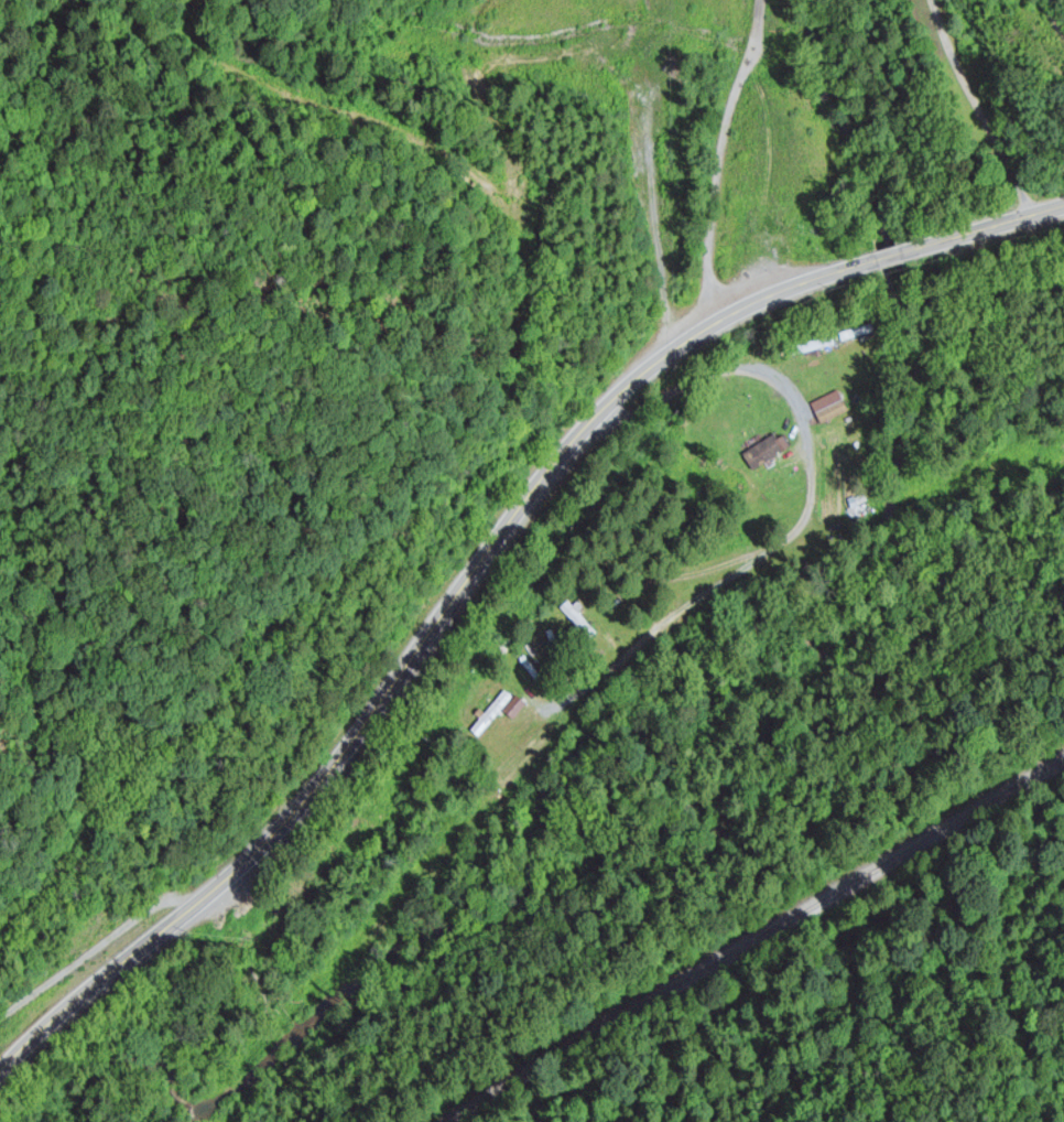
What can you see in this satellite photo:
road: (985, 107)
road: (718, 158)
building: (767, 460)
road: (481, 560)
building: (578, 622)
railway: (751, 928)
road: (93, 948)

